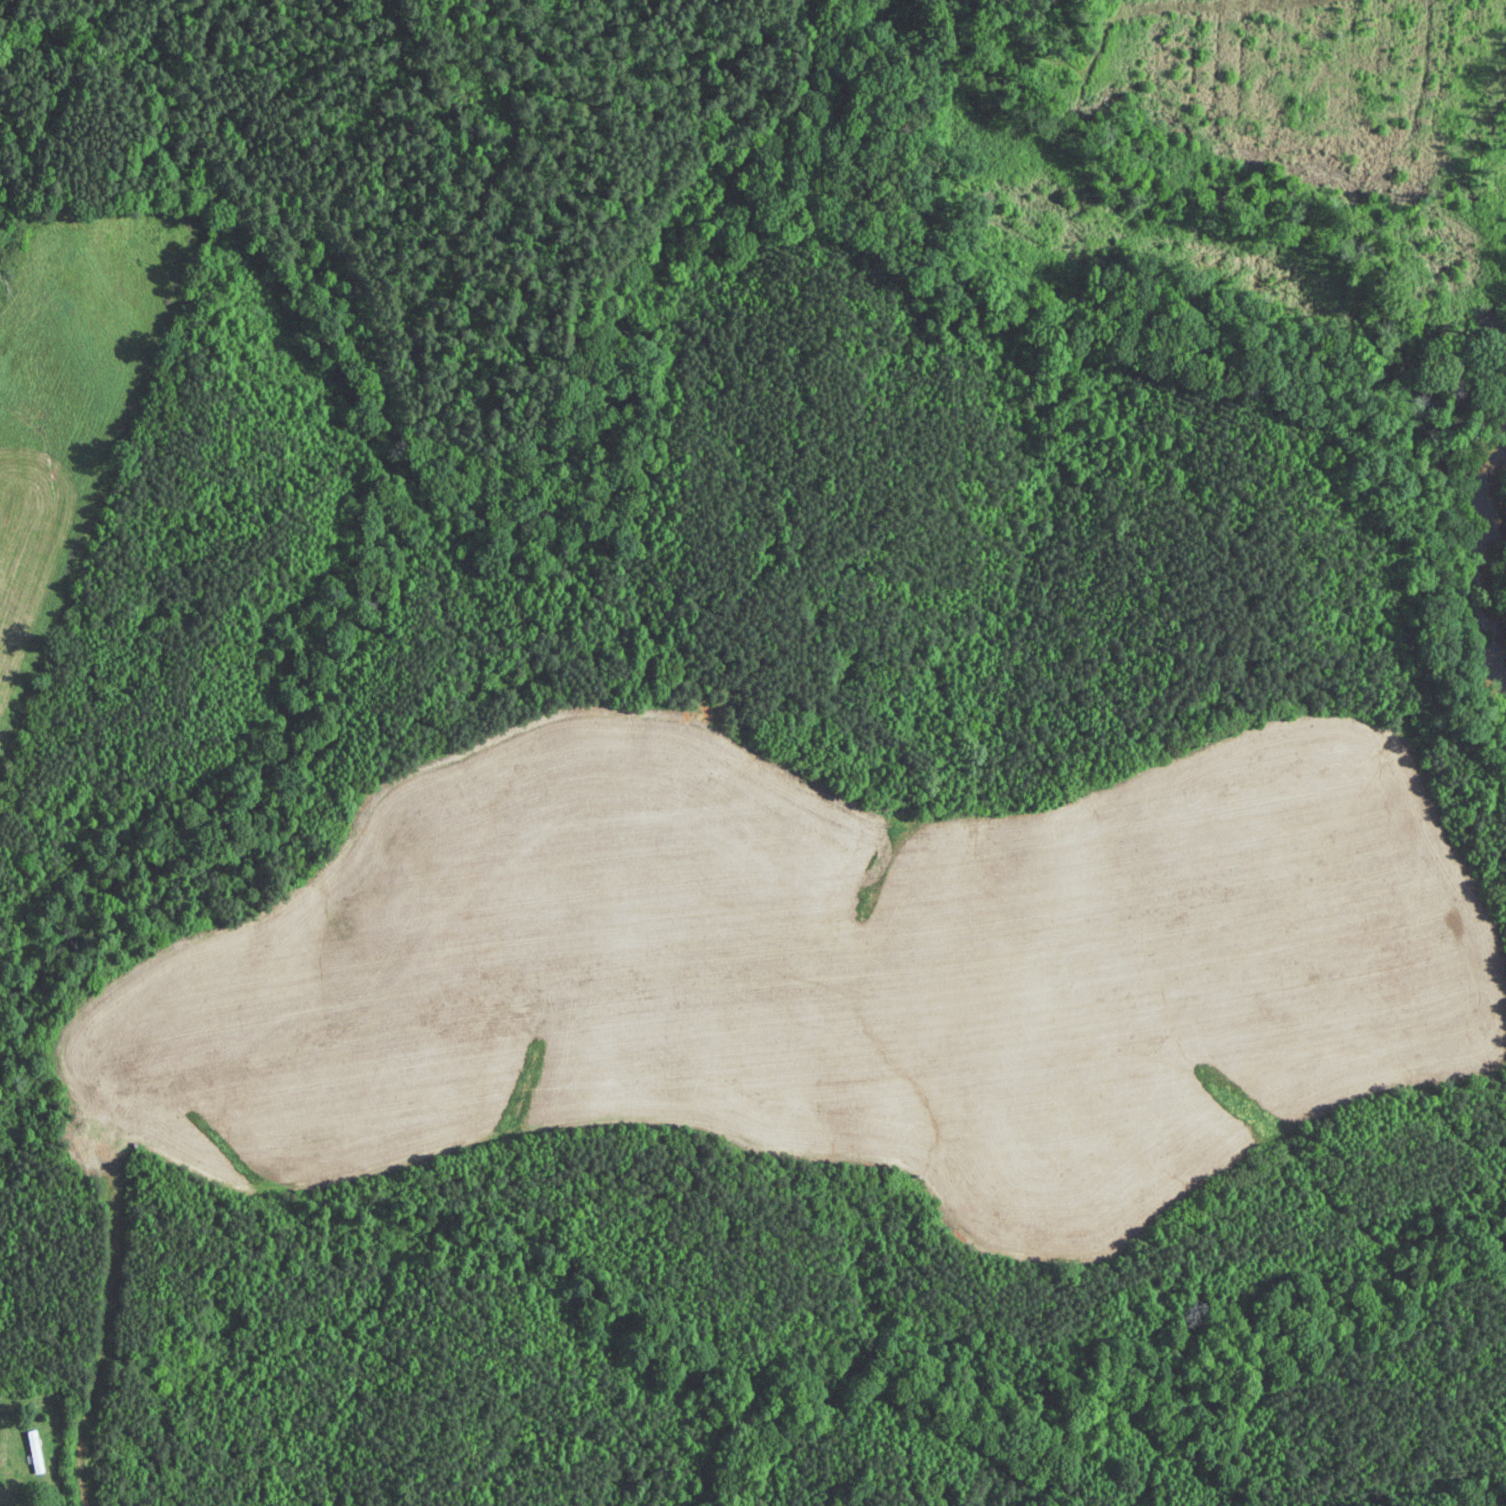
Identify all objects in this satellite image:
river: (1469, 554)
road: (81, 1469)

